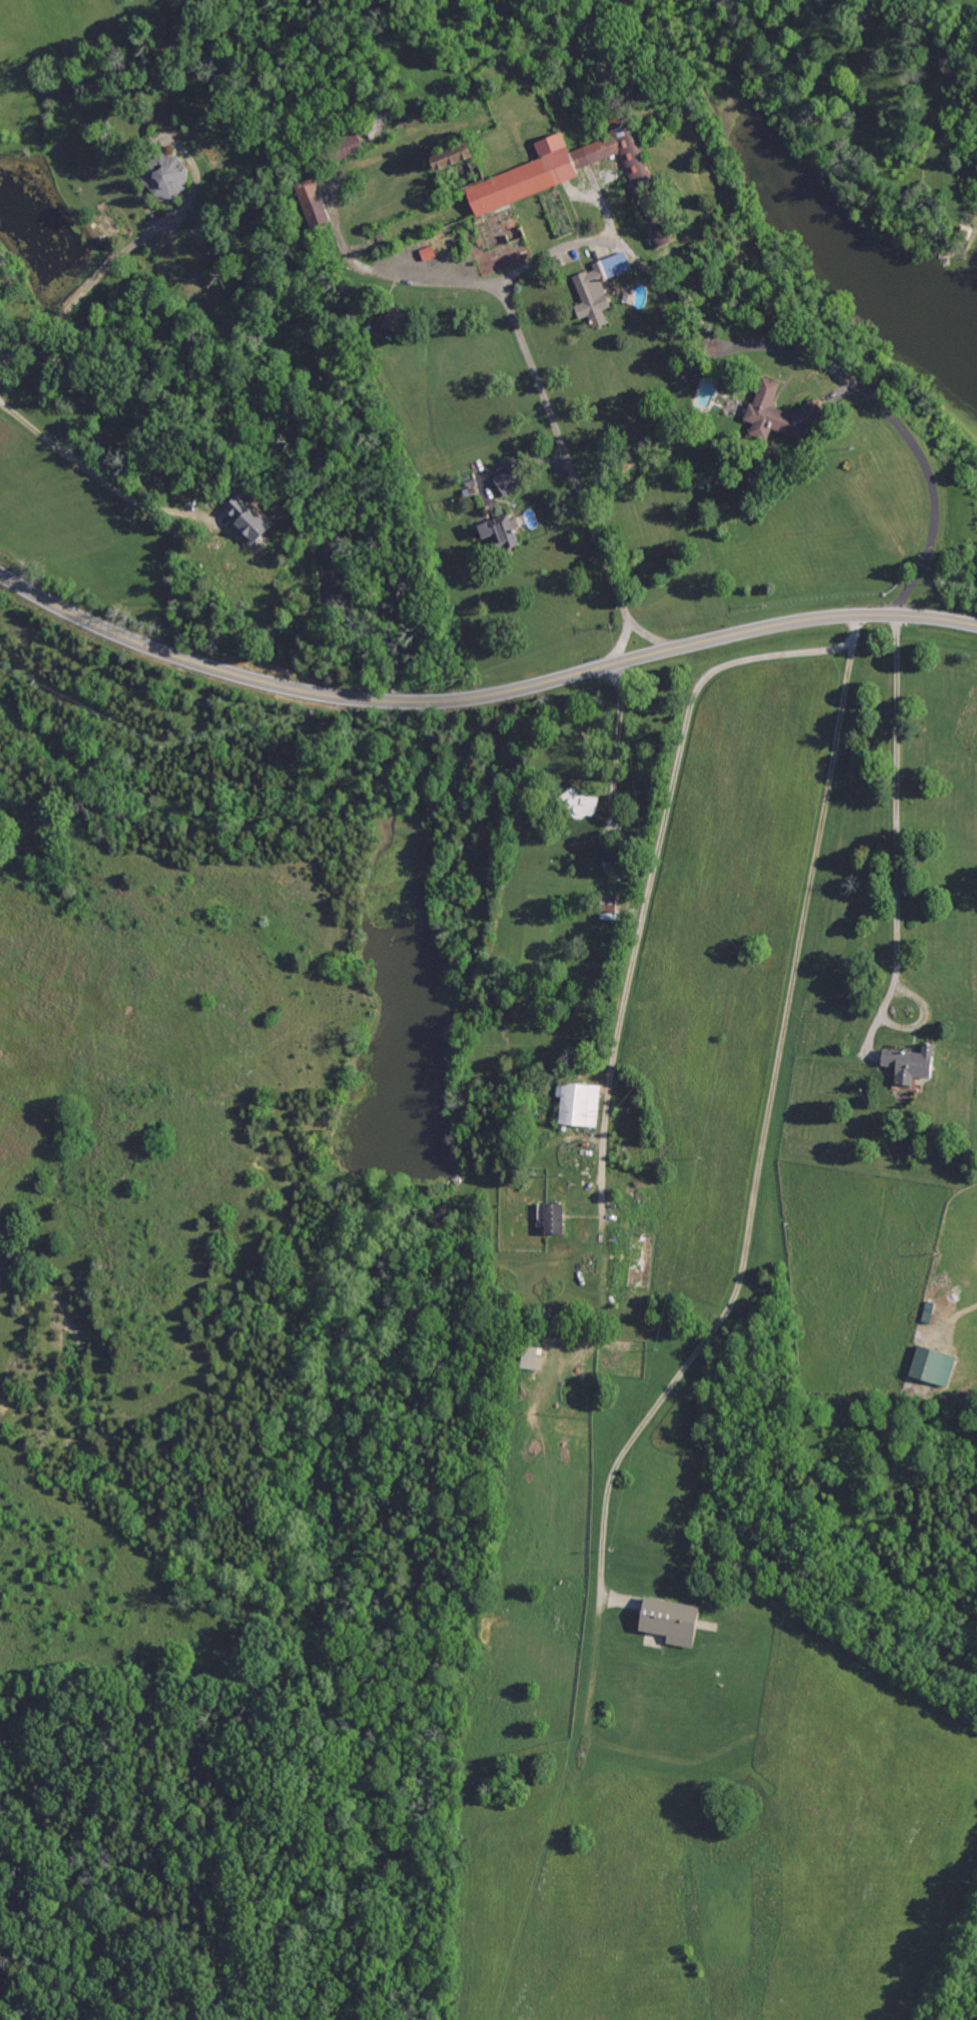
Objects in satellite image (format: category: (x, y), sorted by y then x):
building: (472, 156)
building: (541, 172)
building: (169, 181)
building: (315, 202)
road: (89, 281)
building: (596, 288)
building: (395, 318)
road: (844, 373)
road: (541, 391)
building: (782, 414)
road: (99, 476)
building: (509, 480)
building: (256, 521)
building: (501, 534)
road: (652, 636)
road: (480, 695)
road: (617, 739)
road: (894, 809)
road: (657, 846)
building: (912, 1064)
building: (580, 1104)
road: (757, 1134)
building: (553, 1219)
building: (926, 1366)
building: (662, 1620)

